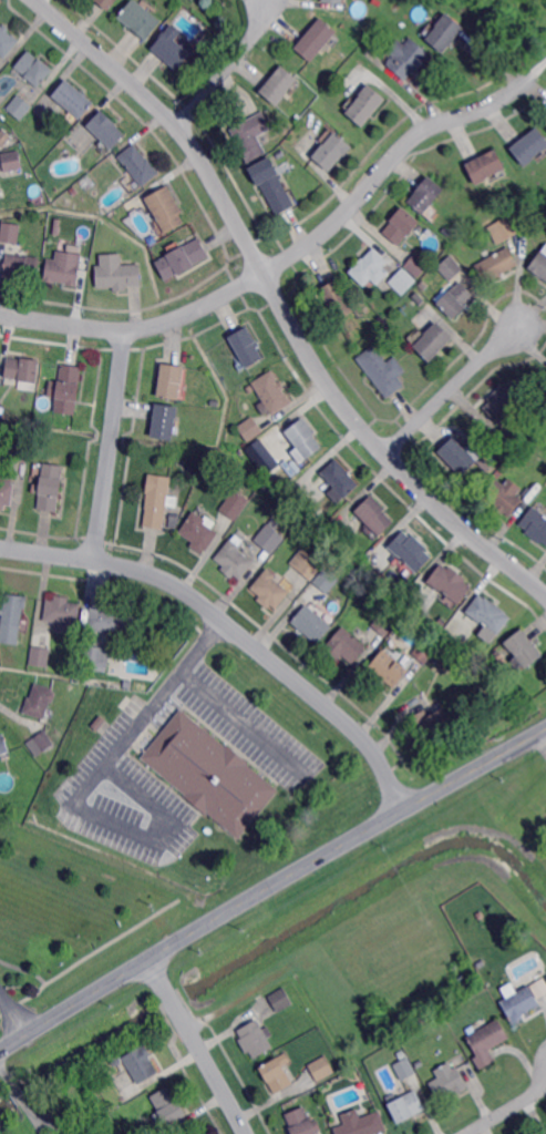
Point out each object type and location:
building: (336, 1)
building: (106, 3)
building: (140, 19)
building: (0, 22)
building: (445, 32)
building: (317, 39)
building: (8, 40)
building: (172, 50)
building: (408, 57)
road: (228, 67)
building: (35, 68)
building: (279, 84)
building: (74, 99)
building: (365, 104)
building: (19, 108)
building: (107, 130)
building: (253, 135)
building: (4, 137)
building: (529, 145)
building: (332, 151)
building: (12, 161)
building: (140, 164)
building: (485, 165)
building: (271, 186)
building: (426, 194)
building: (0, 196)
building: (92, 198)
building: (167, 208)
building: (401, 225)
building: (504, 228)
building: (58, 229)
building: (10, 234)
road: (296, 253)
building: (184, 258)
building: (418, 264)
building: (497, 264)
building: (540, 264)
building: (22, 266)
building: (451, 267)
building: (371, 268)
building: (63, 269)
building: (119, 273)
building: (403, 280)
building: (419, 297)
building: (339, 299)
building: (454, 300)
road: (281, 304)
building: (434, 341)
building: (246, 347)
building: (383, 370)
building: (24, 371)
building: (169, 381)
building: (68, 389)
road: (453, 389)
building: (271, 394)
park: (540, 395)
building: (215, 401)
building: (505, 401)
building: (2, 409)
building: (165, 421)
building: (251, 428)
building: (303, 440)
road: (111, 446)
building: (19, 450)
building: (460, 454)
building: (253, 457)
building: (190, 473)
building: (339, 481)
building: (49, 488)
building: (296, 488)
building: (6, 489)
building: (533, 493)
building: (503, 497)
building: (157, 499)
building: (235, 503)
building: (375, 515)
building: (174, 519)
building: (536, 524)
building: (199, 532)
building: (269, 538)
building: (411, 551)
building: (371, 555)
building: (233, 560)
building: (309, 568)
building: (326, 581)
building: (451, 583)
building: (269, 590)
building: (62, 612)
building: (490, 614)
building: (13, 616)
building: (112, 622)
building: (385, 622)
building: (312, 624)
road: (233, 627)
building: (344, 647)
building: (525, 648)
building: (40, 656)
building: (94, 656)
building: (449, 660)
building: (390, 668)
building: (127, 683)
building: (39, 702)
building: (431, 721)
building: (100, 723)
road: (246, 724)
building: (44, 739)
road: (540, 740)
building: (3, 745)
building: (209, 774)
road: (82, 793)
road: (271, 887)
building: (280, 999)
building: (518, 1003)
road: (16, 1011)
building: (302, 1015)
building: (445, 1031)
building: (255, 1039)
building: (487, 1041)
road: (198, 1046)
building: (140, 1065)
building: (322, 1067)
building: (405, 1069)
building: (278, 1073)
building: (449, 1082)
building: (167, 1106)
building: (408, 1106)
road: (508, 1110)
building: (303, 1122)
building: (360, 1124)
building: (151, 1130)
building: (195, 1133)

